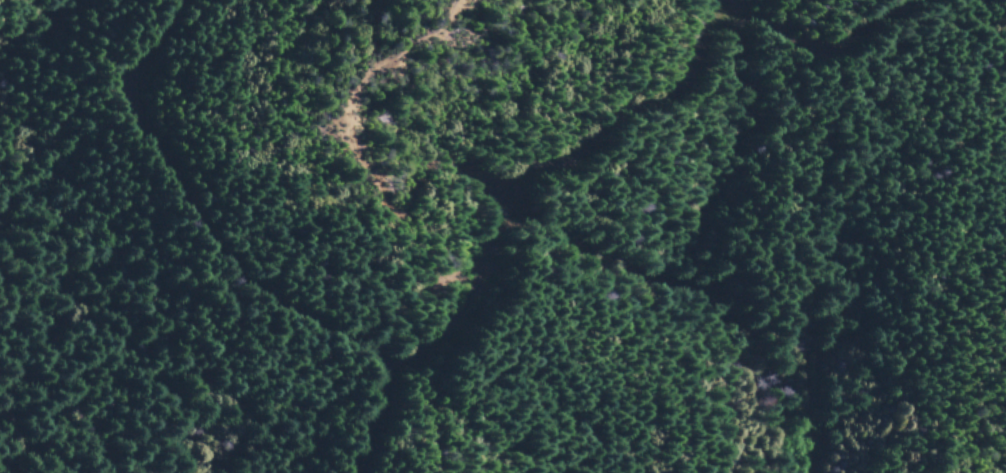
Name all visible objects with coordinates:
road: (879, 398)

